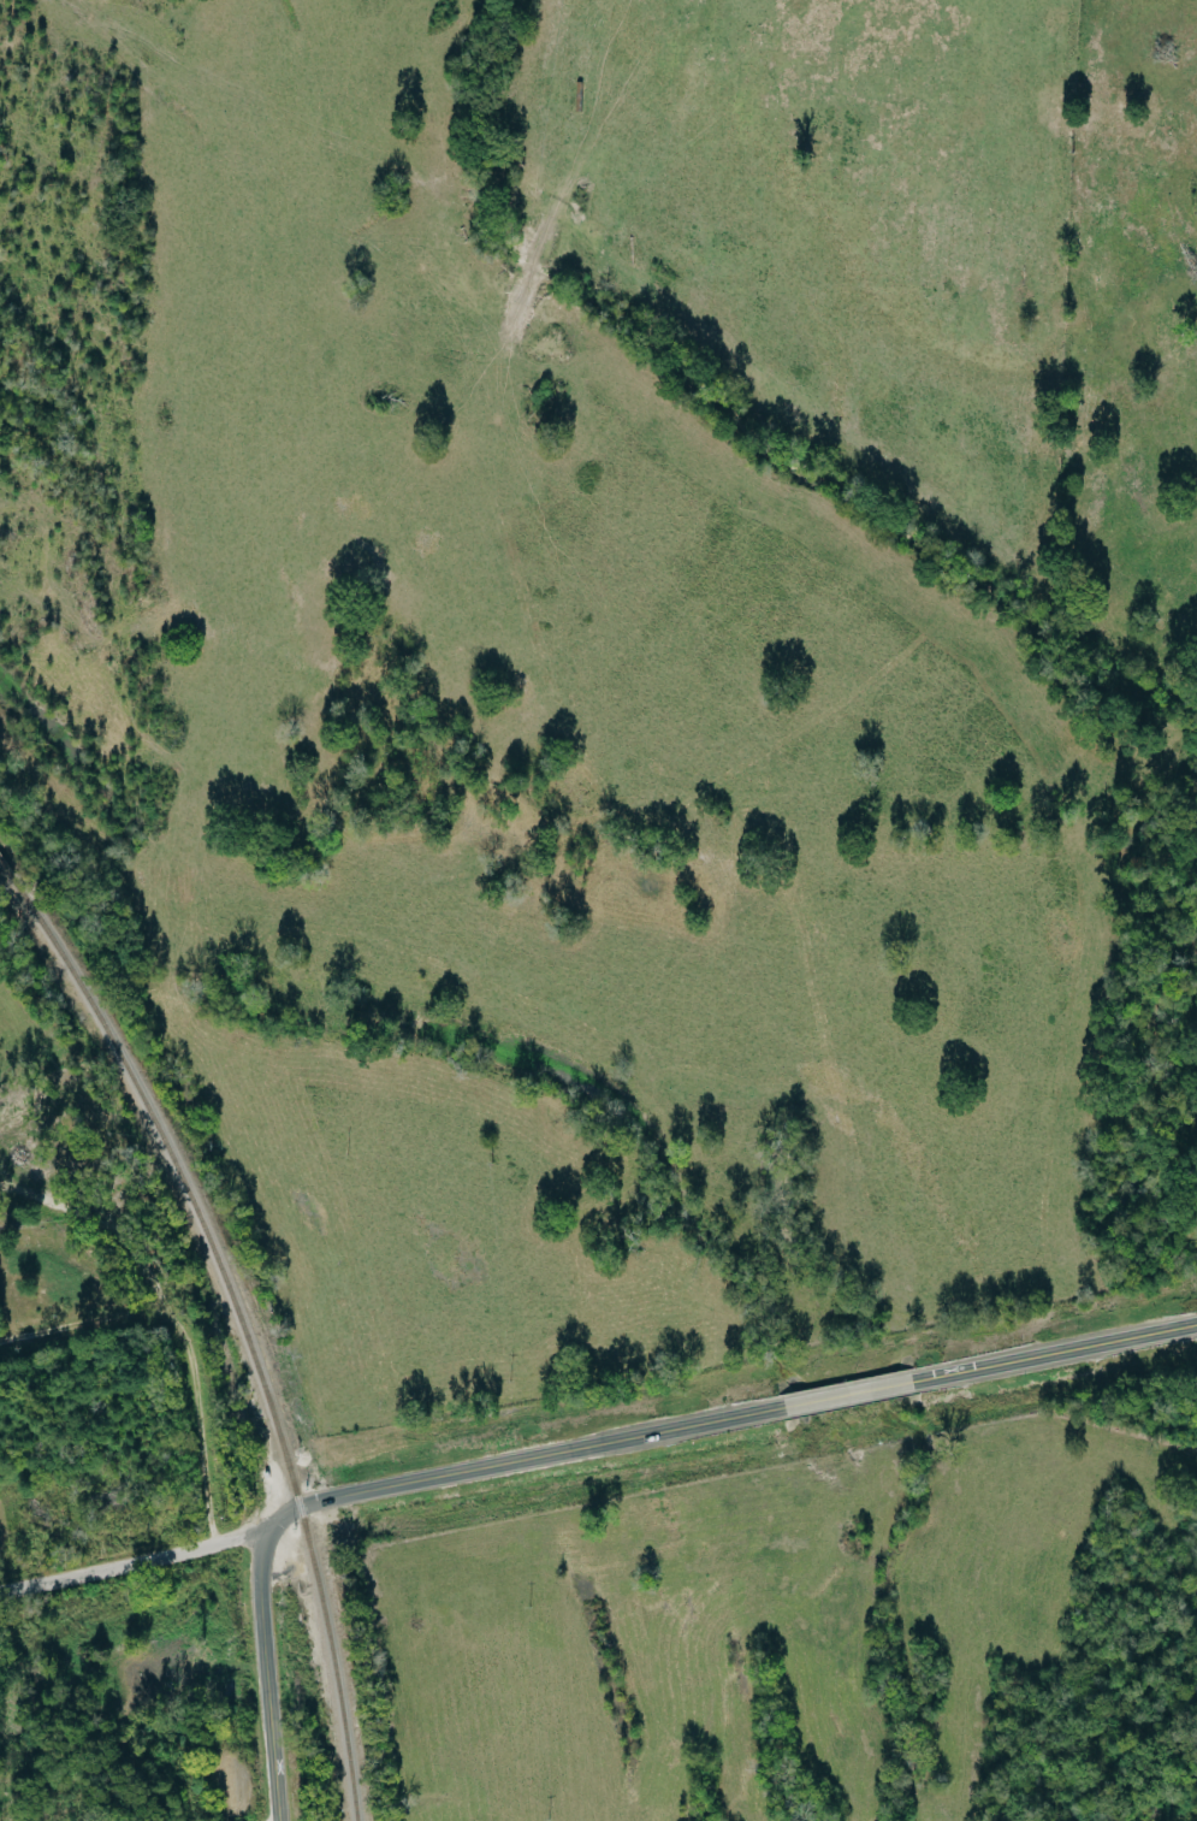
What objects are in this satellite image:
railway: (6, 871)
road: (78, 1323)
railway: (243, 1330)
road: (1053, 1354)
road: (845, 1396)
road: (192, 1425)
road: (374, 1488)
road: (131, 1562)

